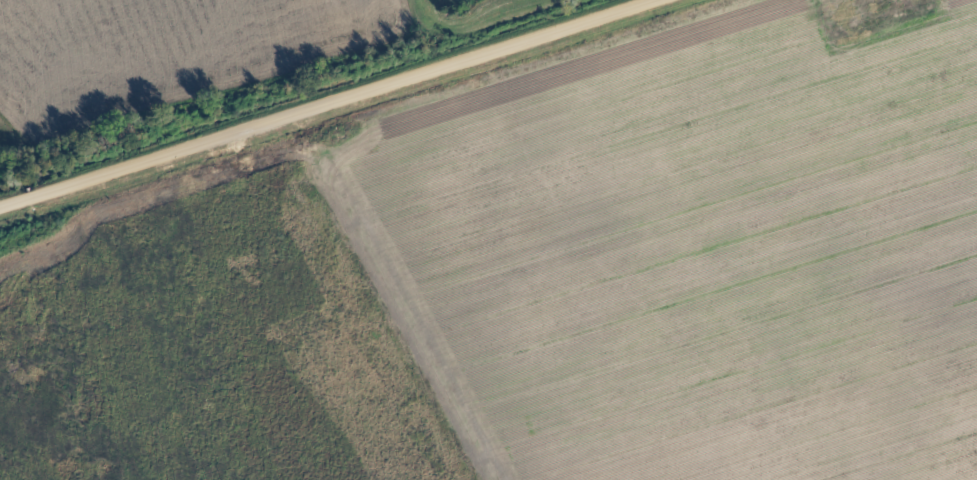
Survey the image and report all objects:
road: (334, 104)

